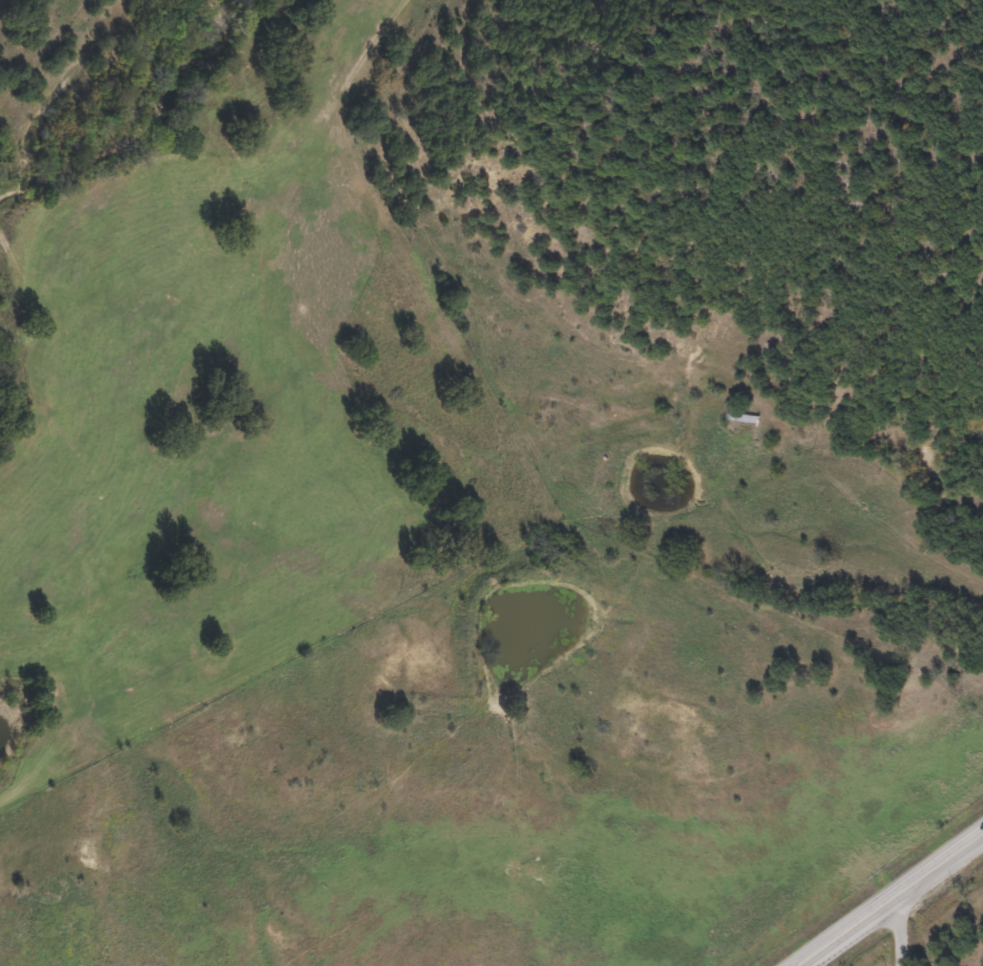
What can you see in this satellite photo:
road: (699, 383)
building: (742, 417)
road: (208, 650)
road: (892, 899)
road: (899, 930)

